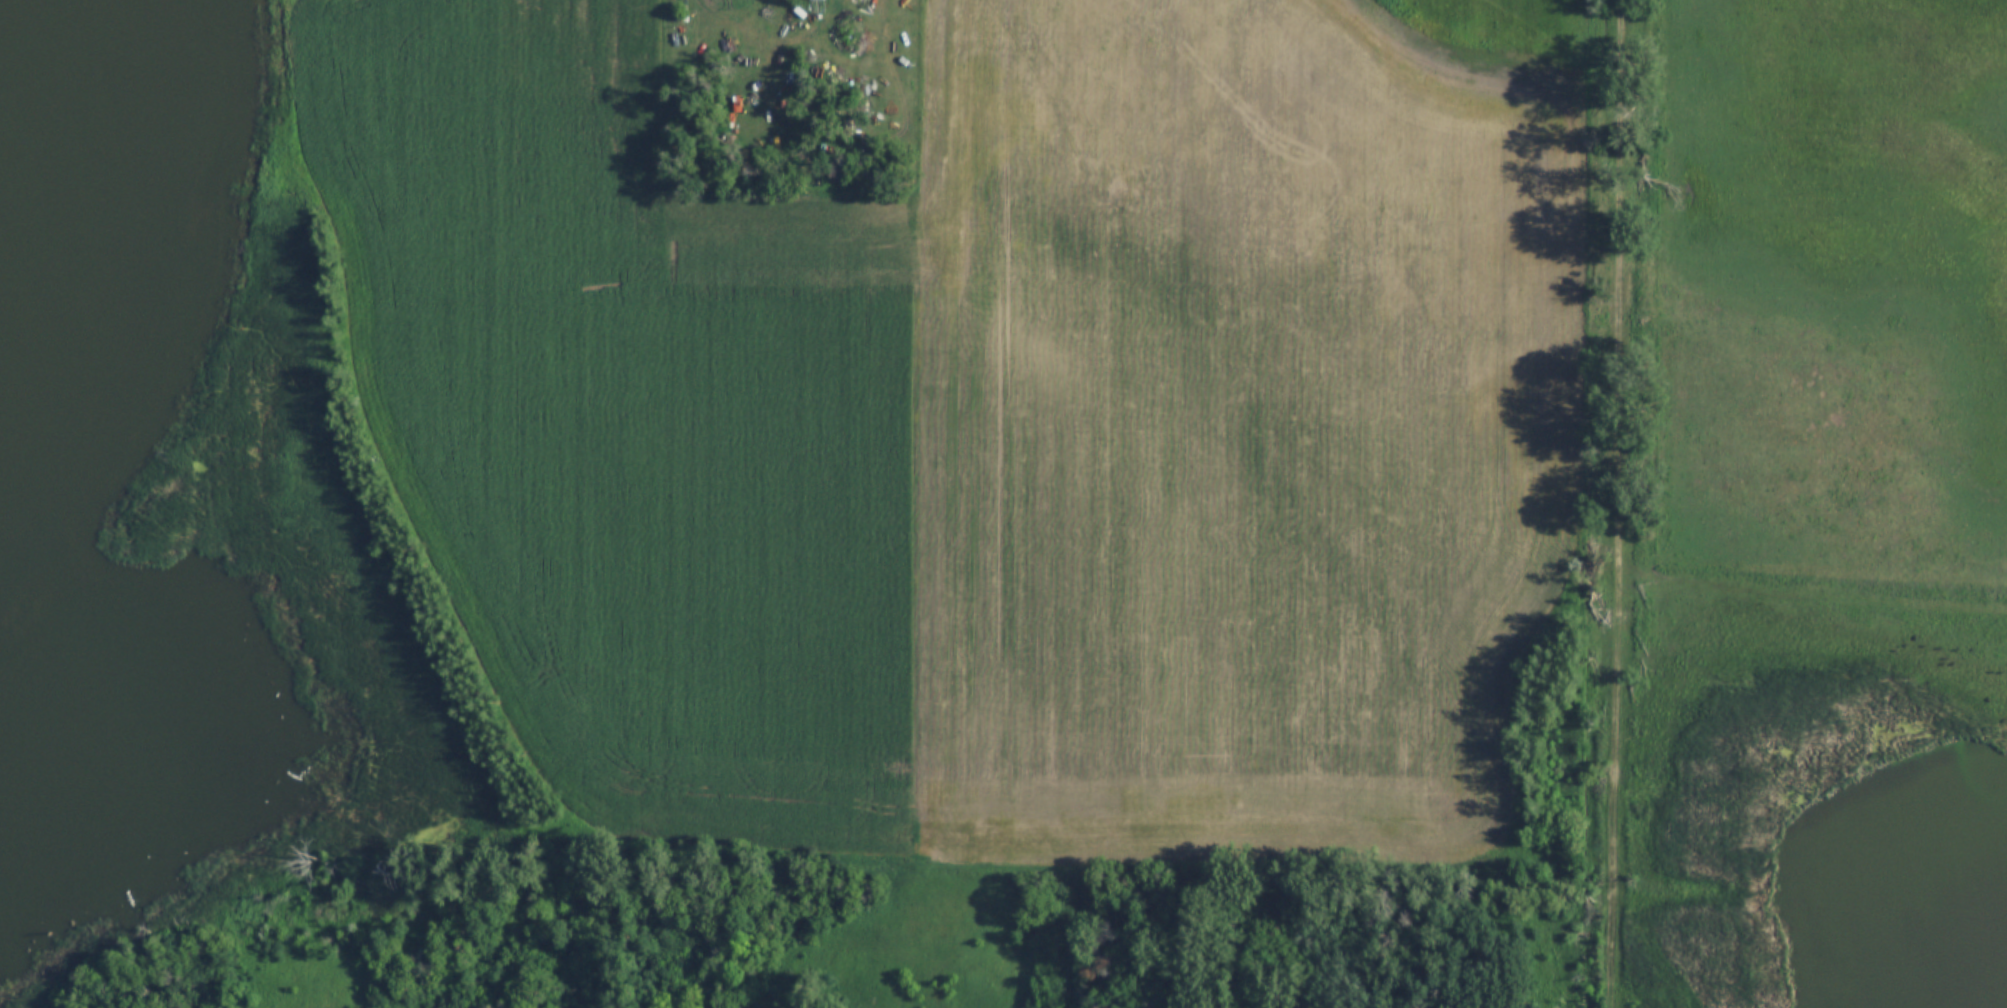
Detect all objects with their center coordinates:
road: (1615, 504)

